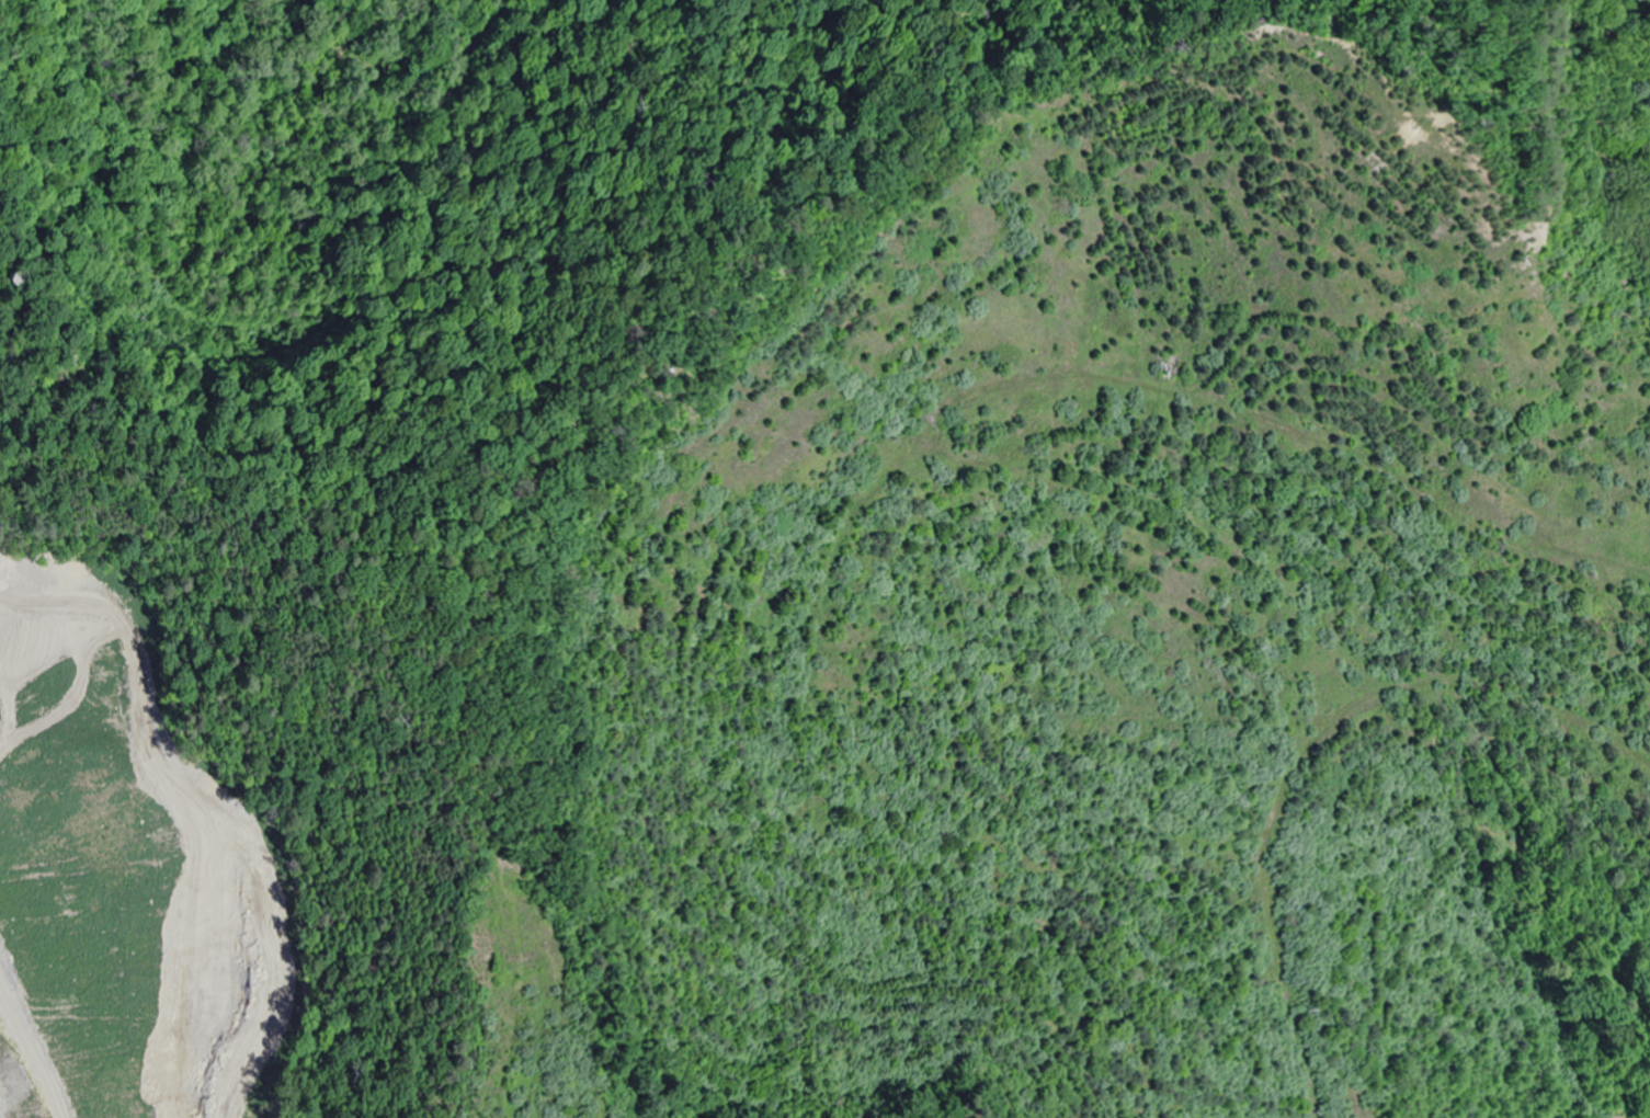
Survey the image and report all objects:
quarry: (82, 916)

